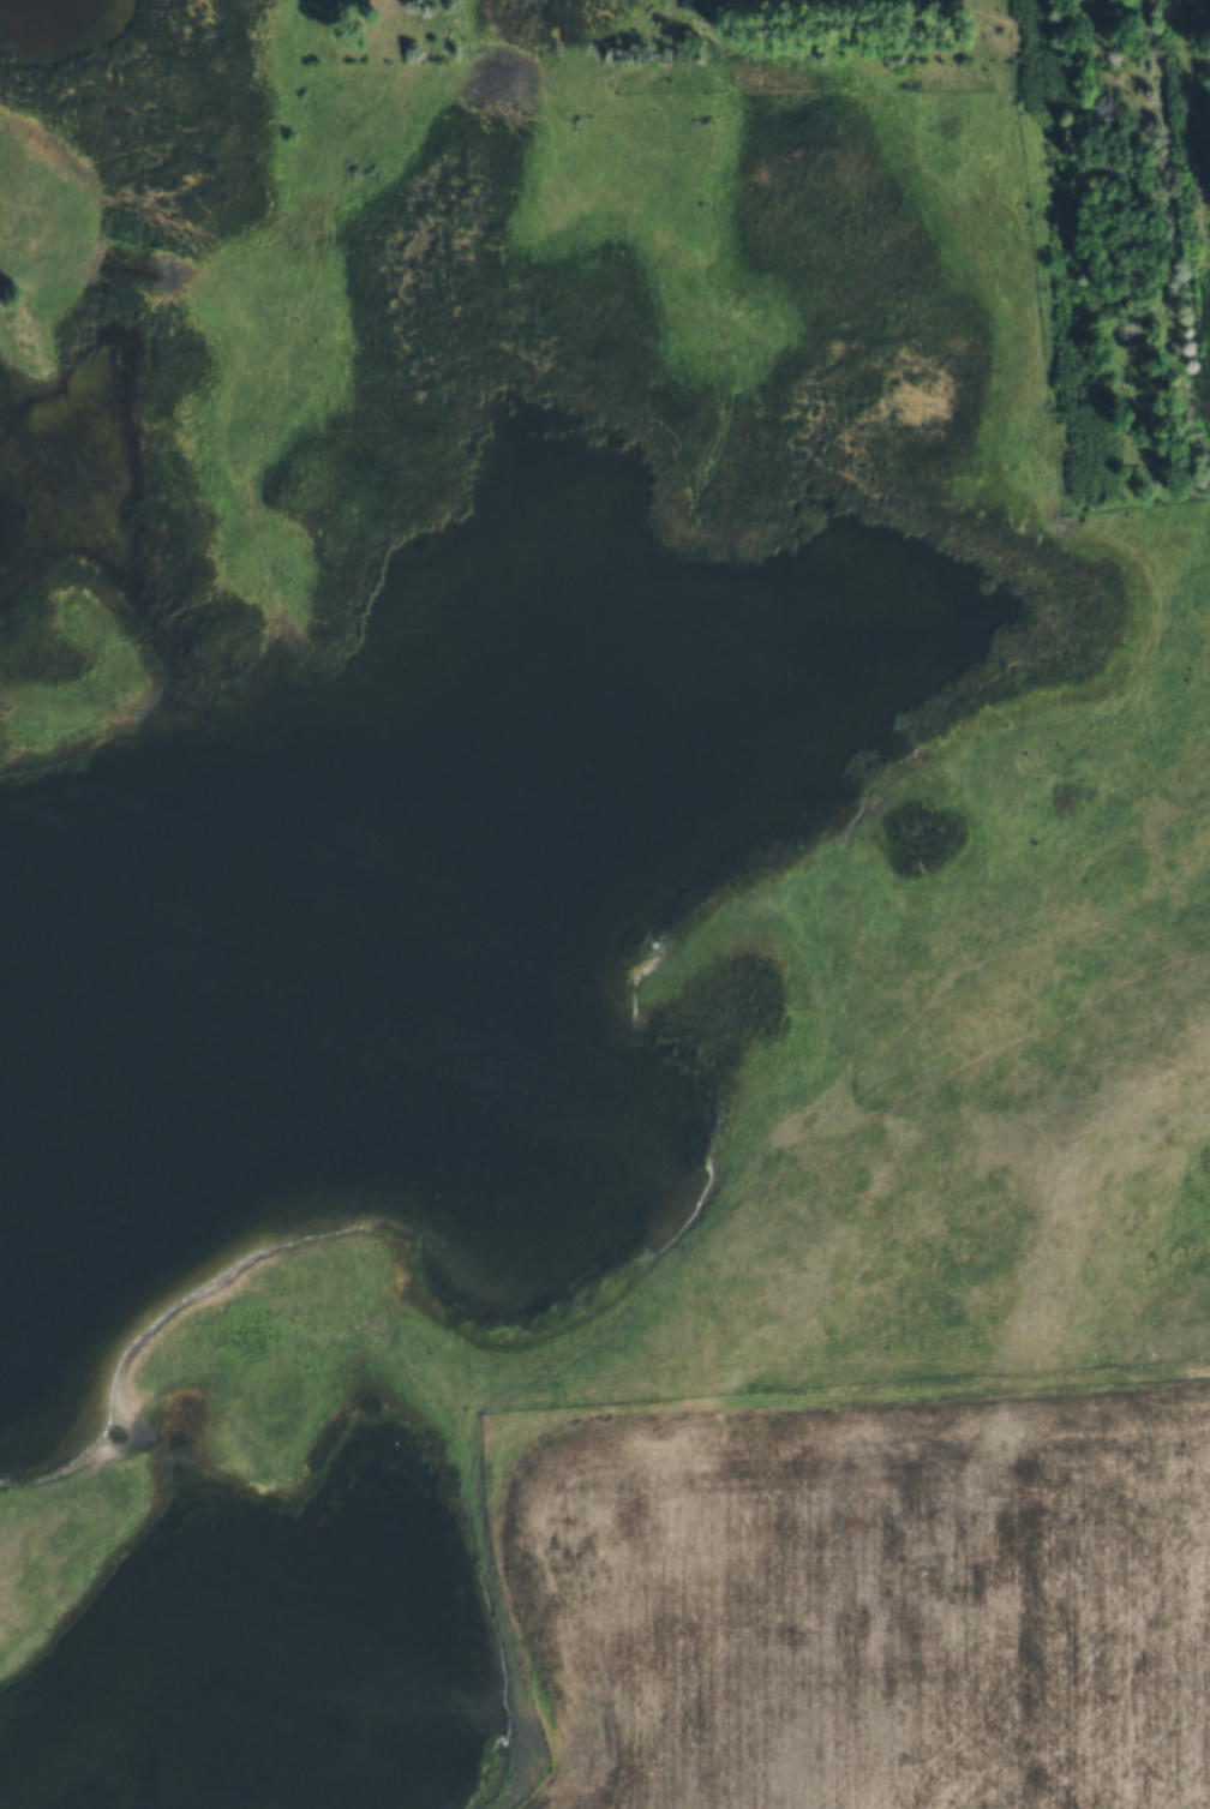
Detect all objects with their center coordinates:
road: (693, 1401)

